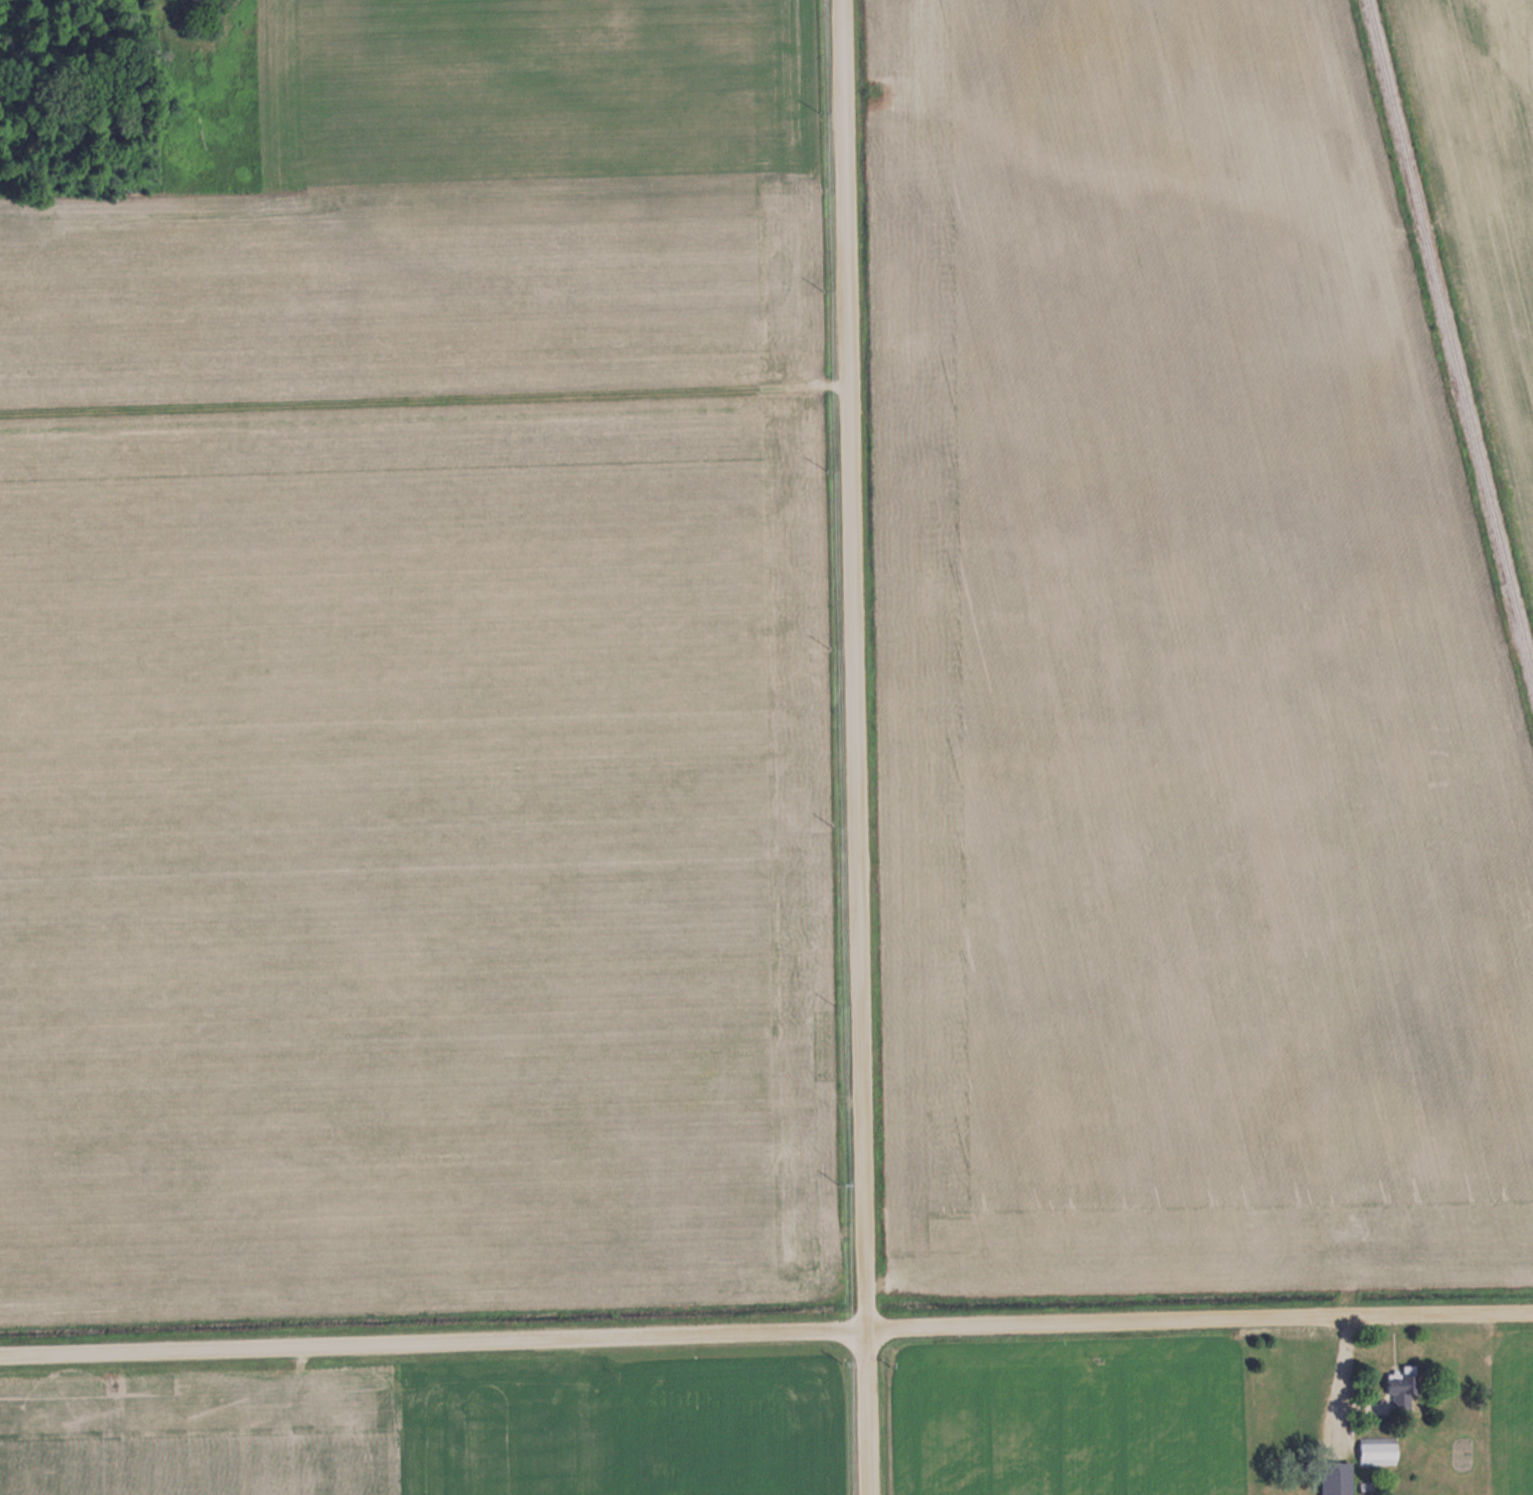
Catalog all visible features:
railway: (1451, 336)
road: (849, 747)
road: (766, 1330)
building: (1402, 1384)
building: (1377, 1450)
building: (1336, 1478)

